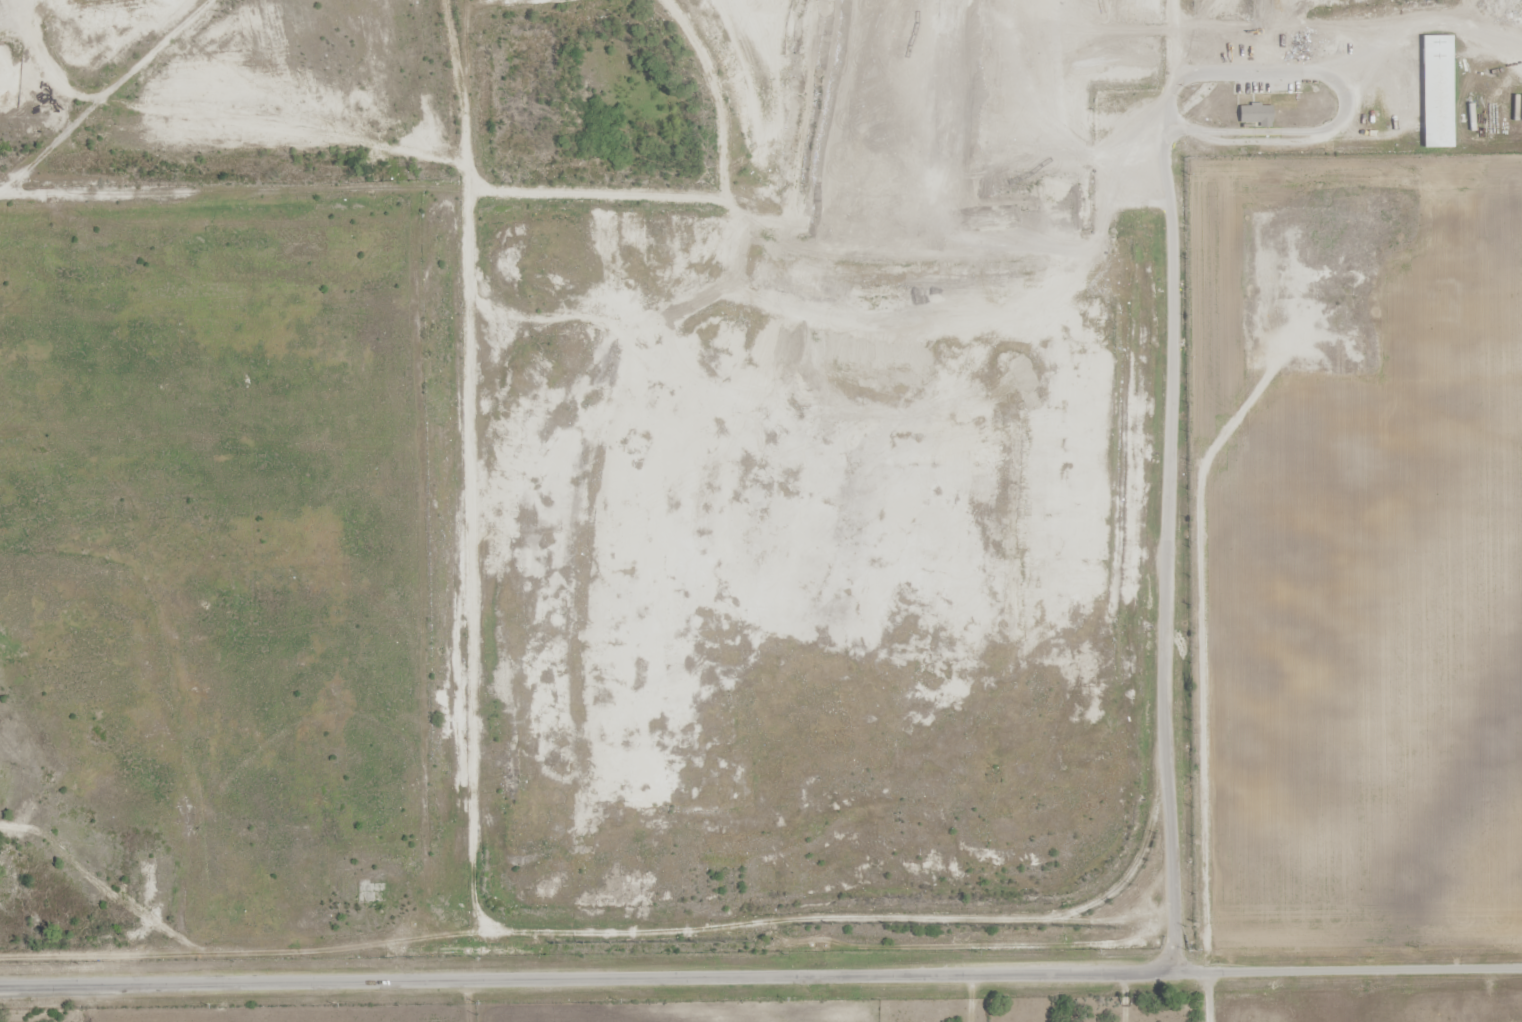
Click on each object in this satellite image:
building: (1435, 91)
road: (1172, 339)
building: (370, 891)
road: (761, 976)
road: (1205, 998)

